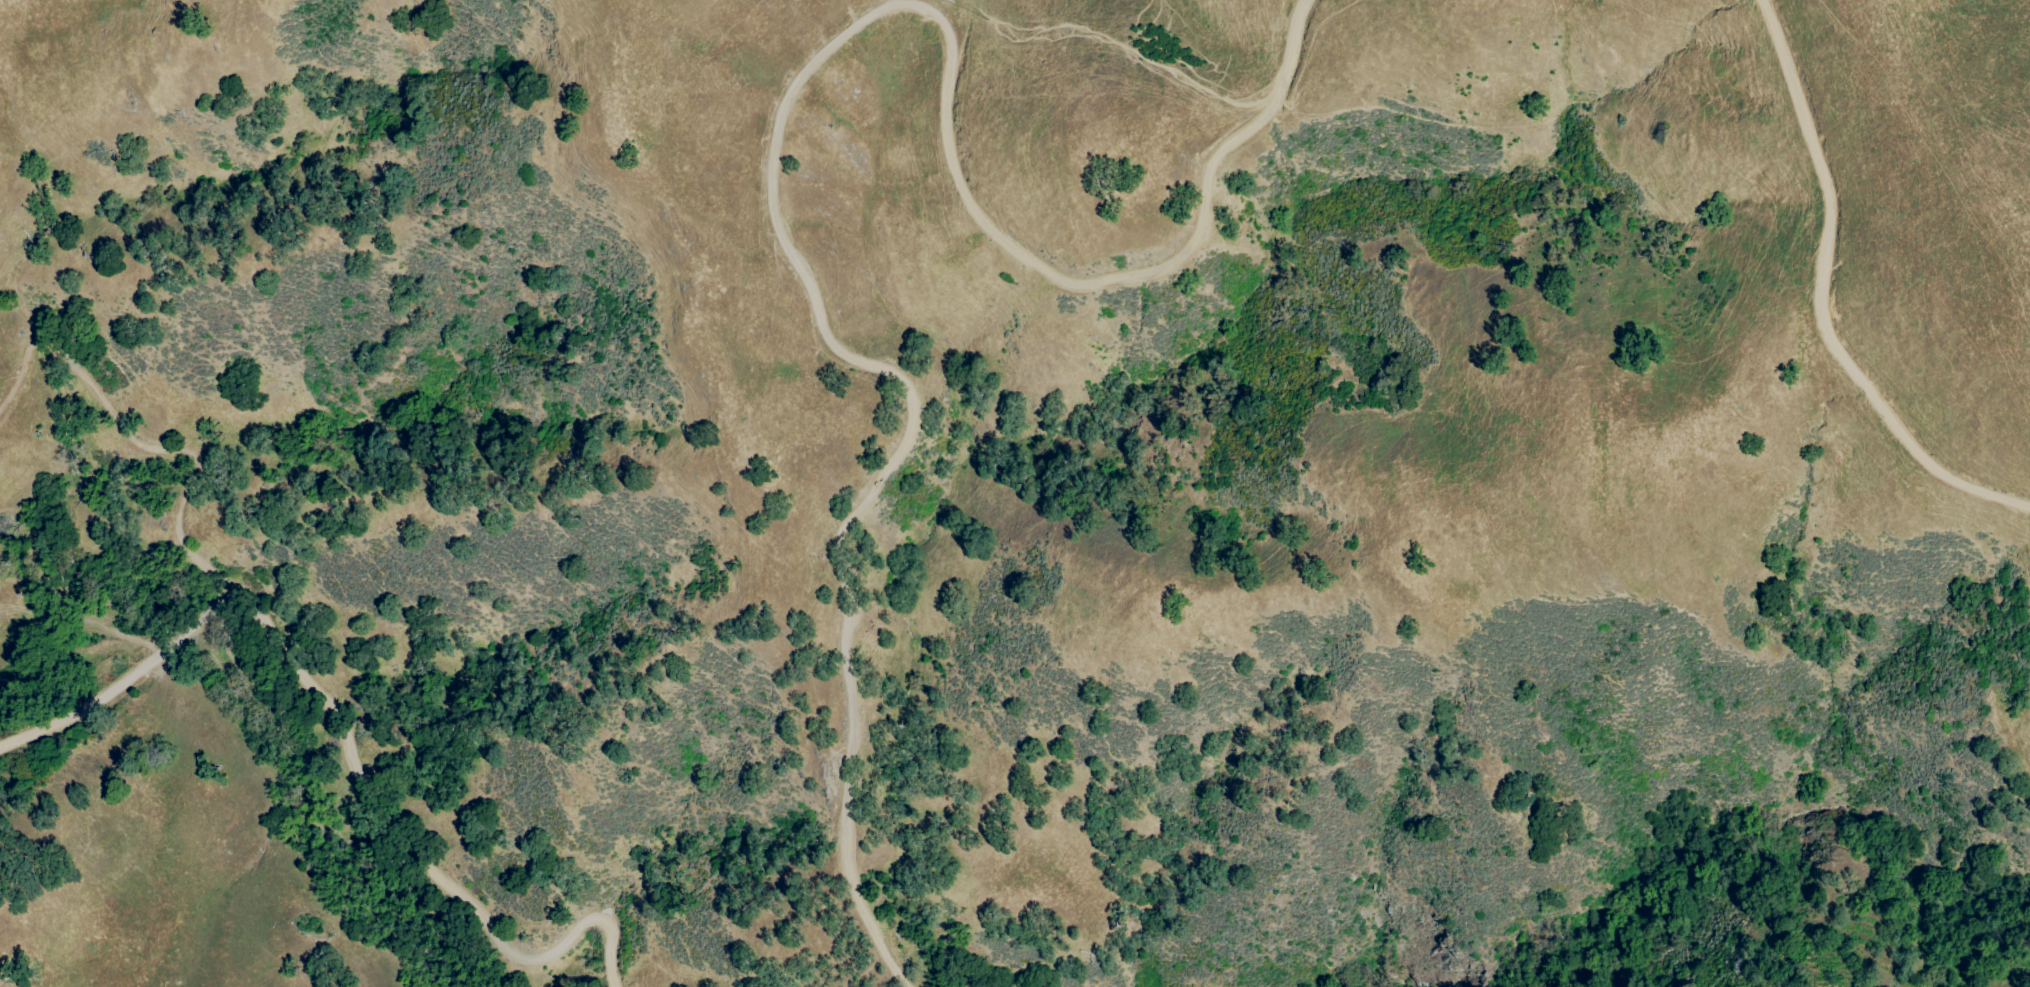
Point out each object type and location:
road: (793, 122)
road: (1823, 295)
road: (343, 726)

